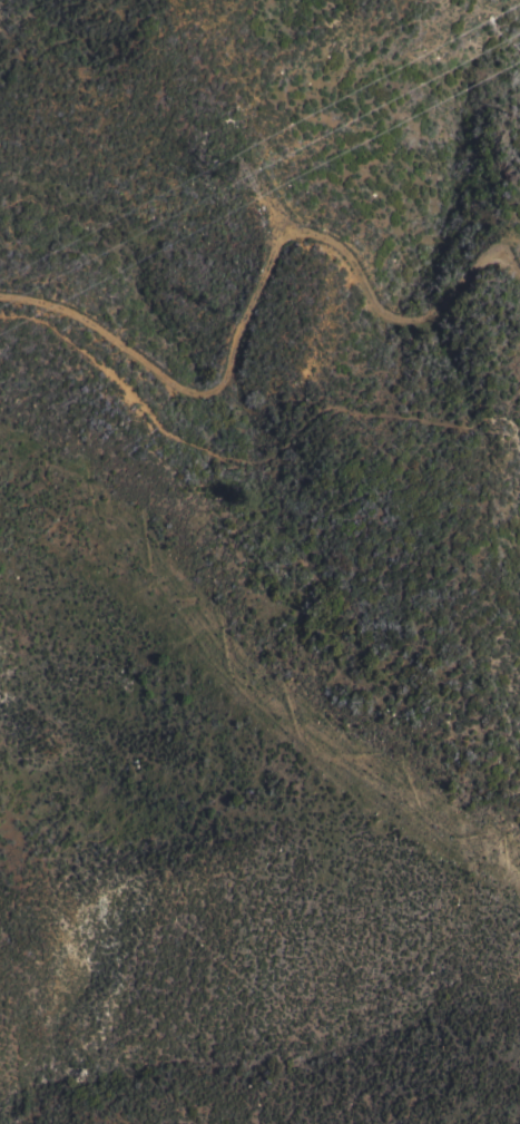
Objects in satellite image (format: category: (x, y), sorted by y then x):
power tower: (243, 174)
road: (517, 270)
road: (258, 284)
road: (251, 459)

